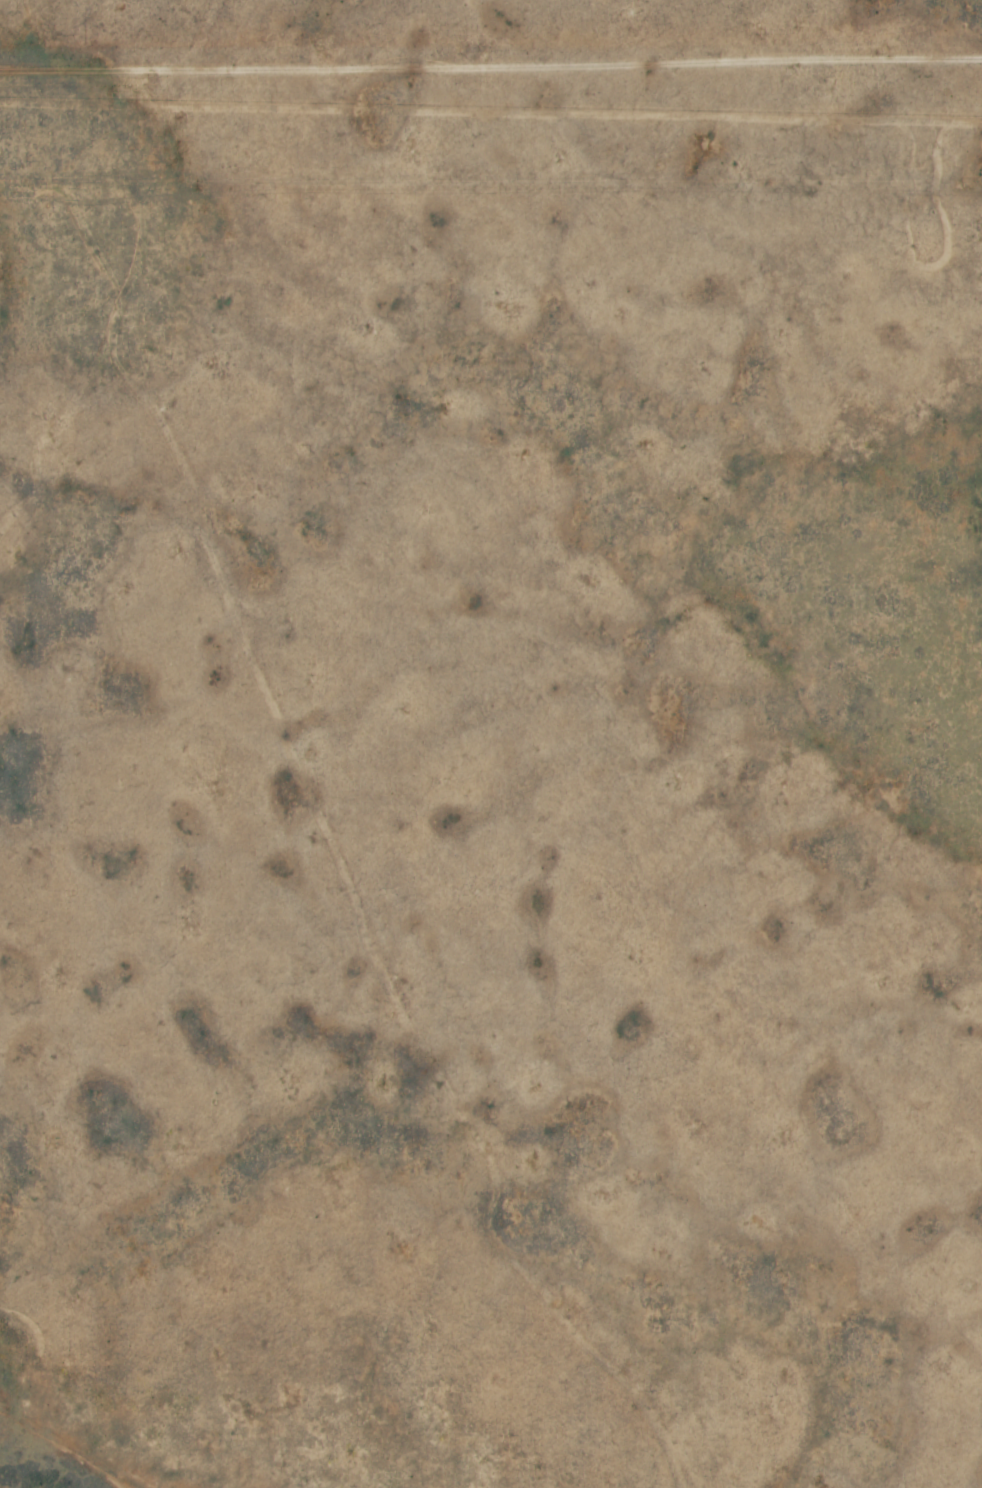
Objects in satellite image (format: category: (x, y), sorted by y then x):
road: (491, 5)

